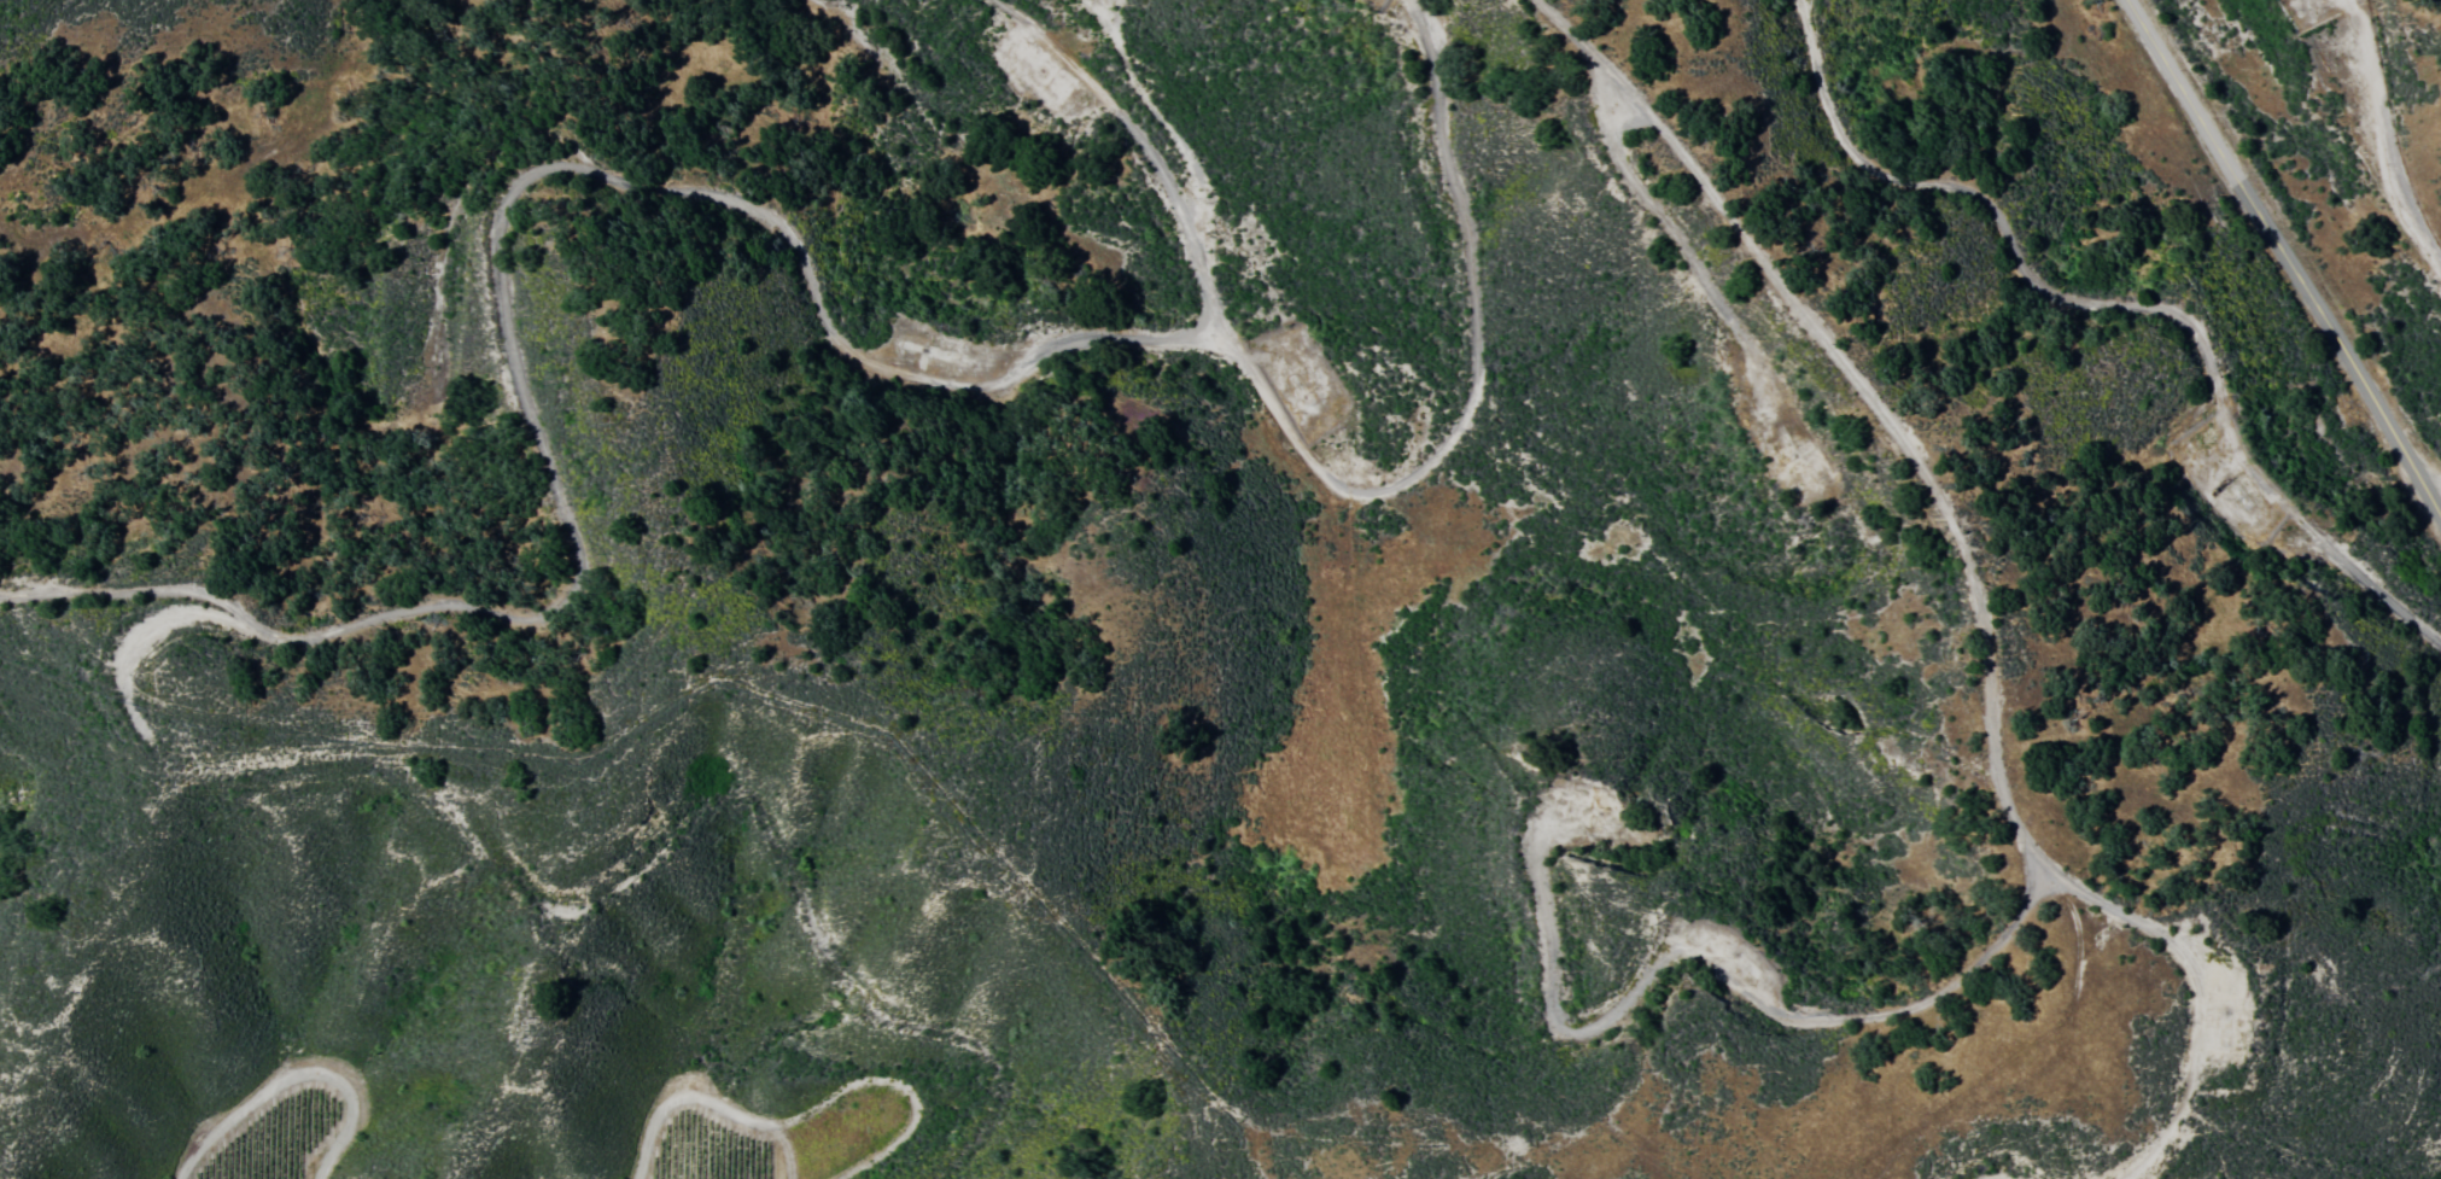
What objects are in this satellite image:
road: (2387, 133)
road: (1146, 152)
road: (1659, 232)
road: (783, 247)
road: (2287, 259)
road: (2112, 303)
road: (2433, 486)
road: (2005, 802)
road: (607, 907)
road: (2186, 970)

